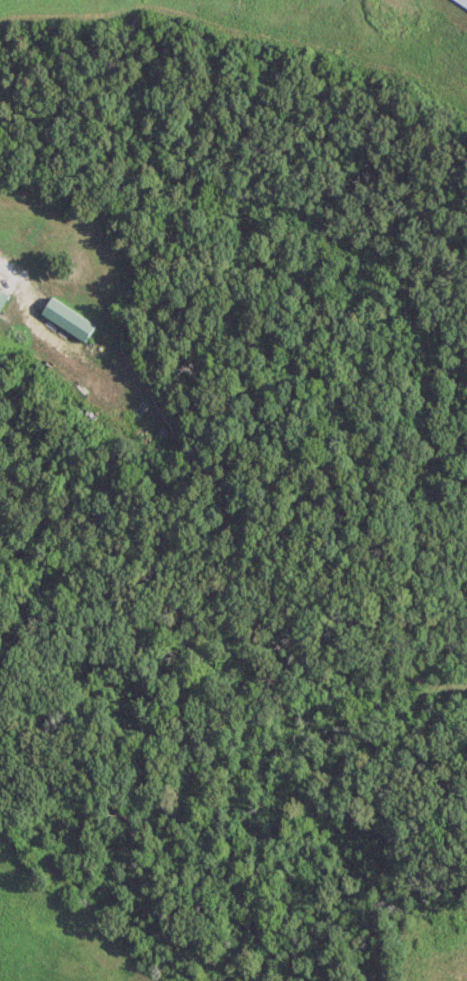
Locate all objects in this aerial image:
building: (460, 4)
building: (2, 296)

